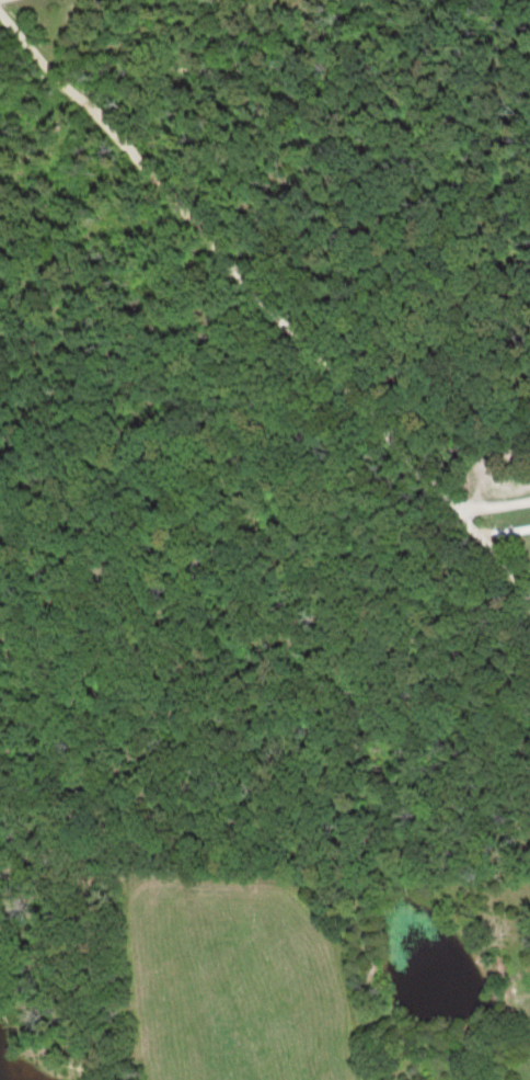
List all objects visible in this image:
road: (272, 327)
road: (486, 519)

